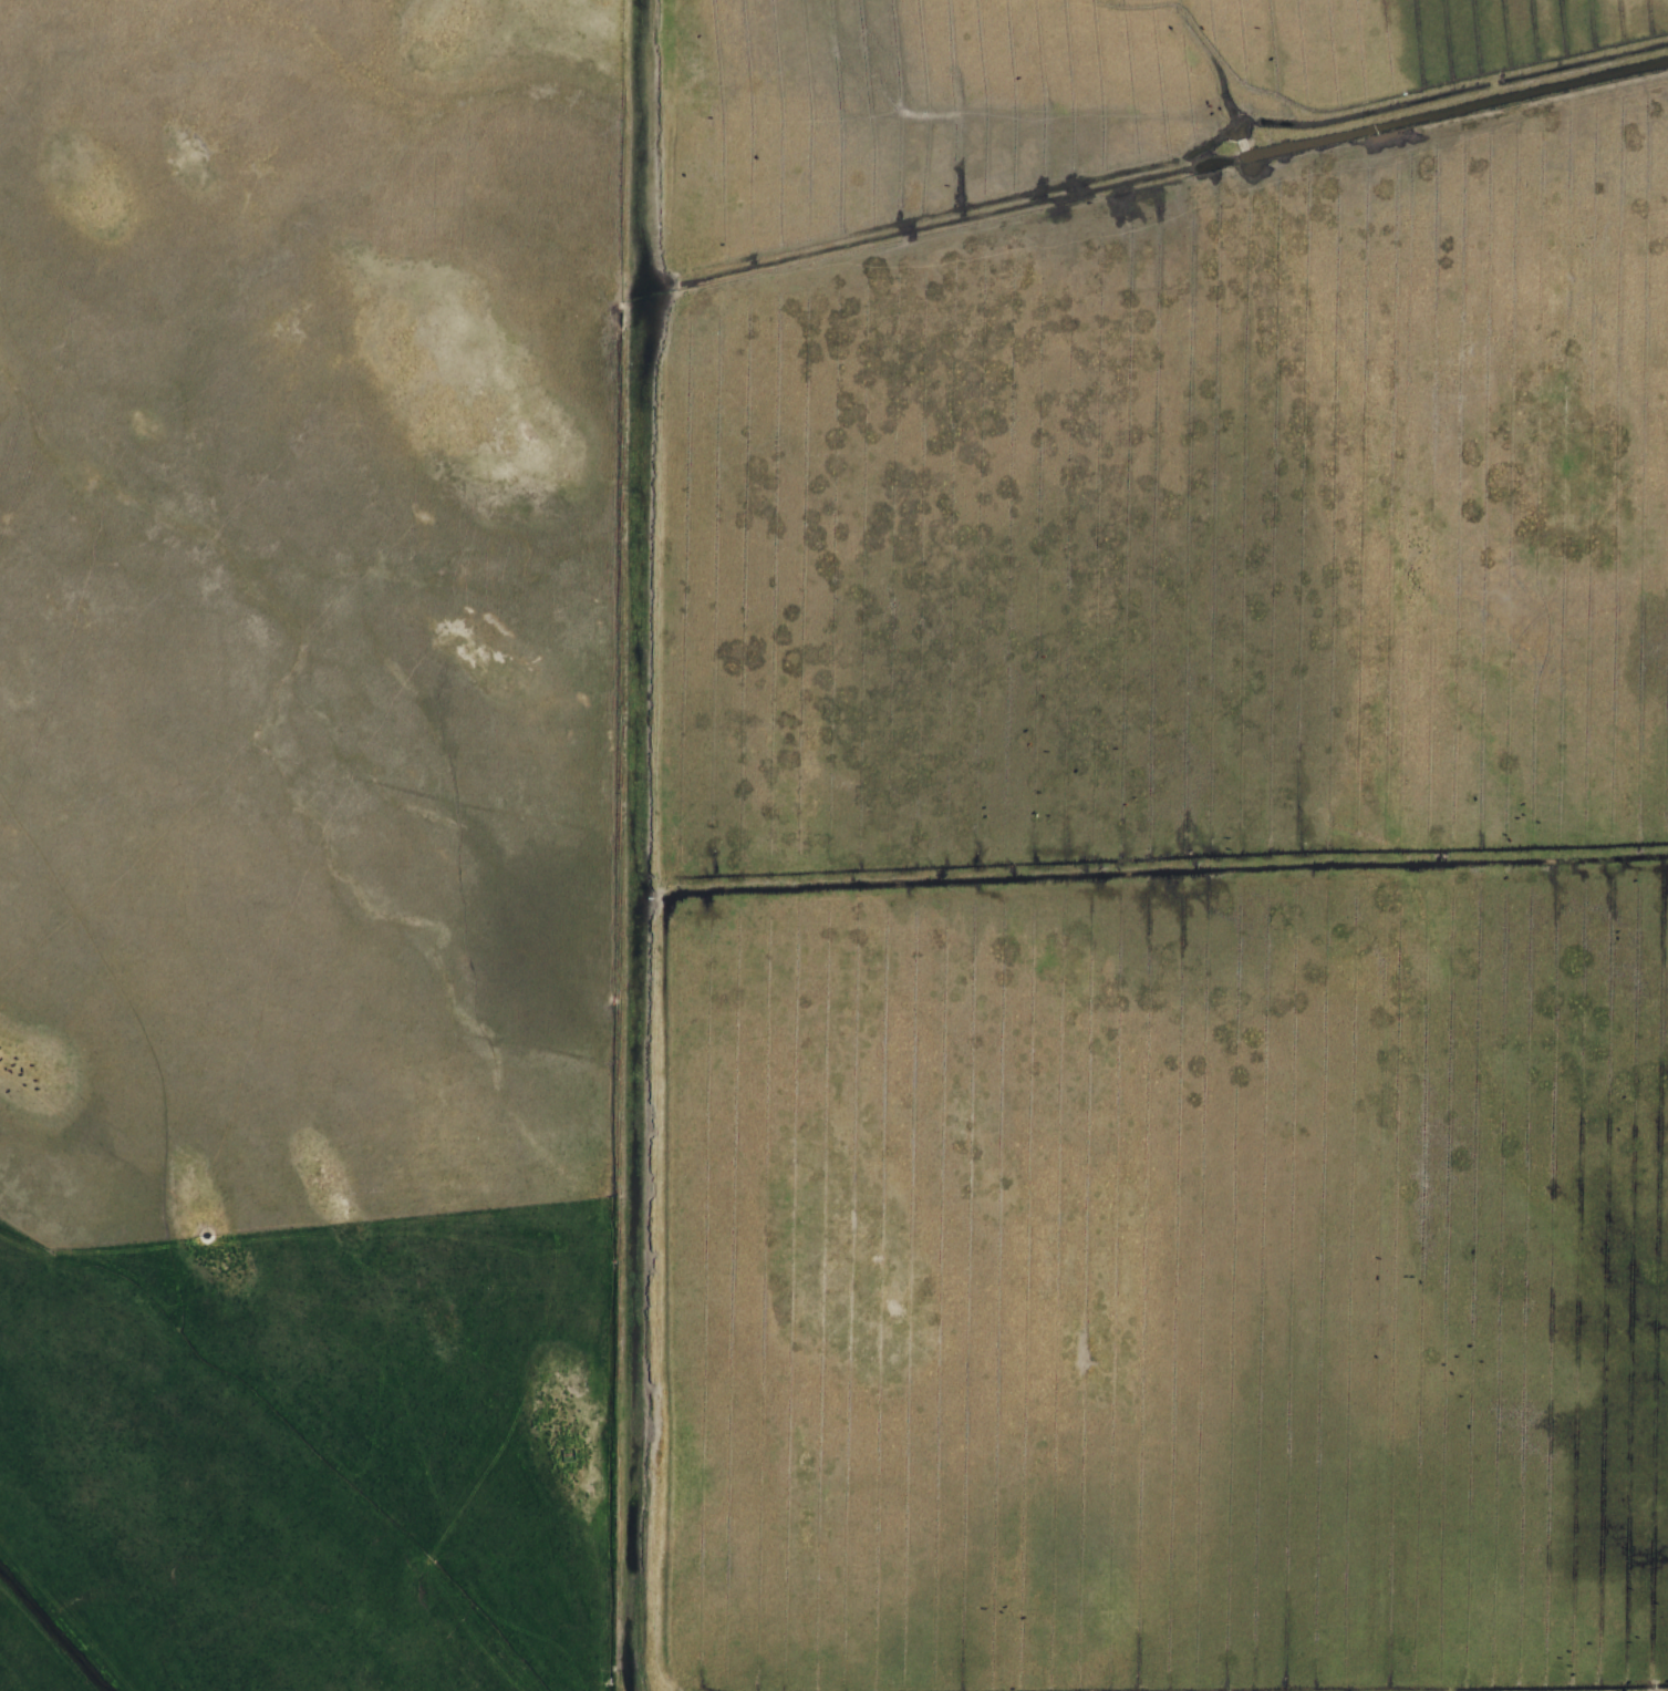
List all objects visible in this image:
crop: (1121, 832)
crop: (292, 869)

